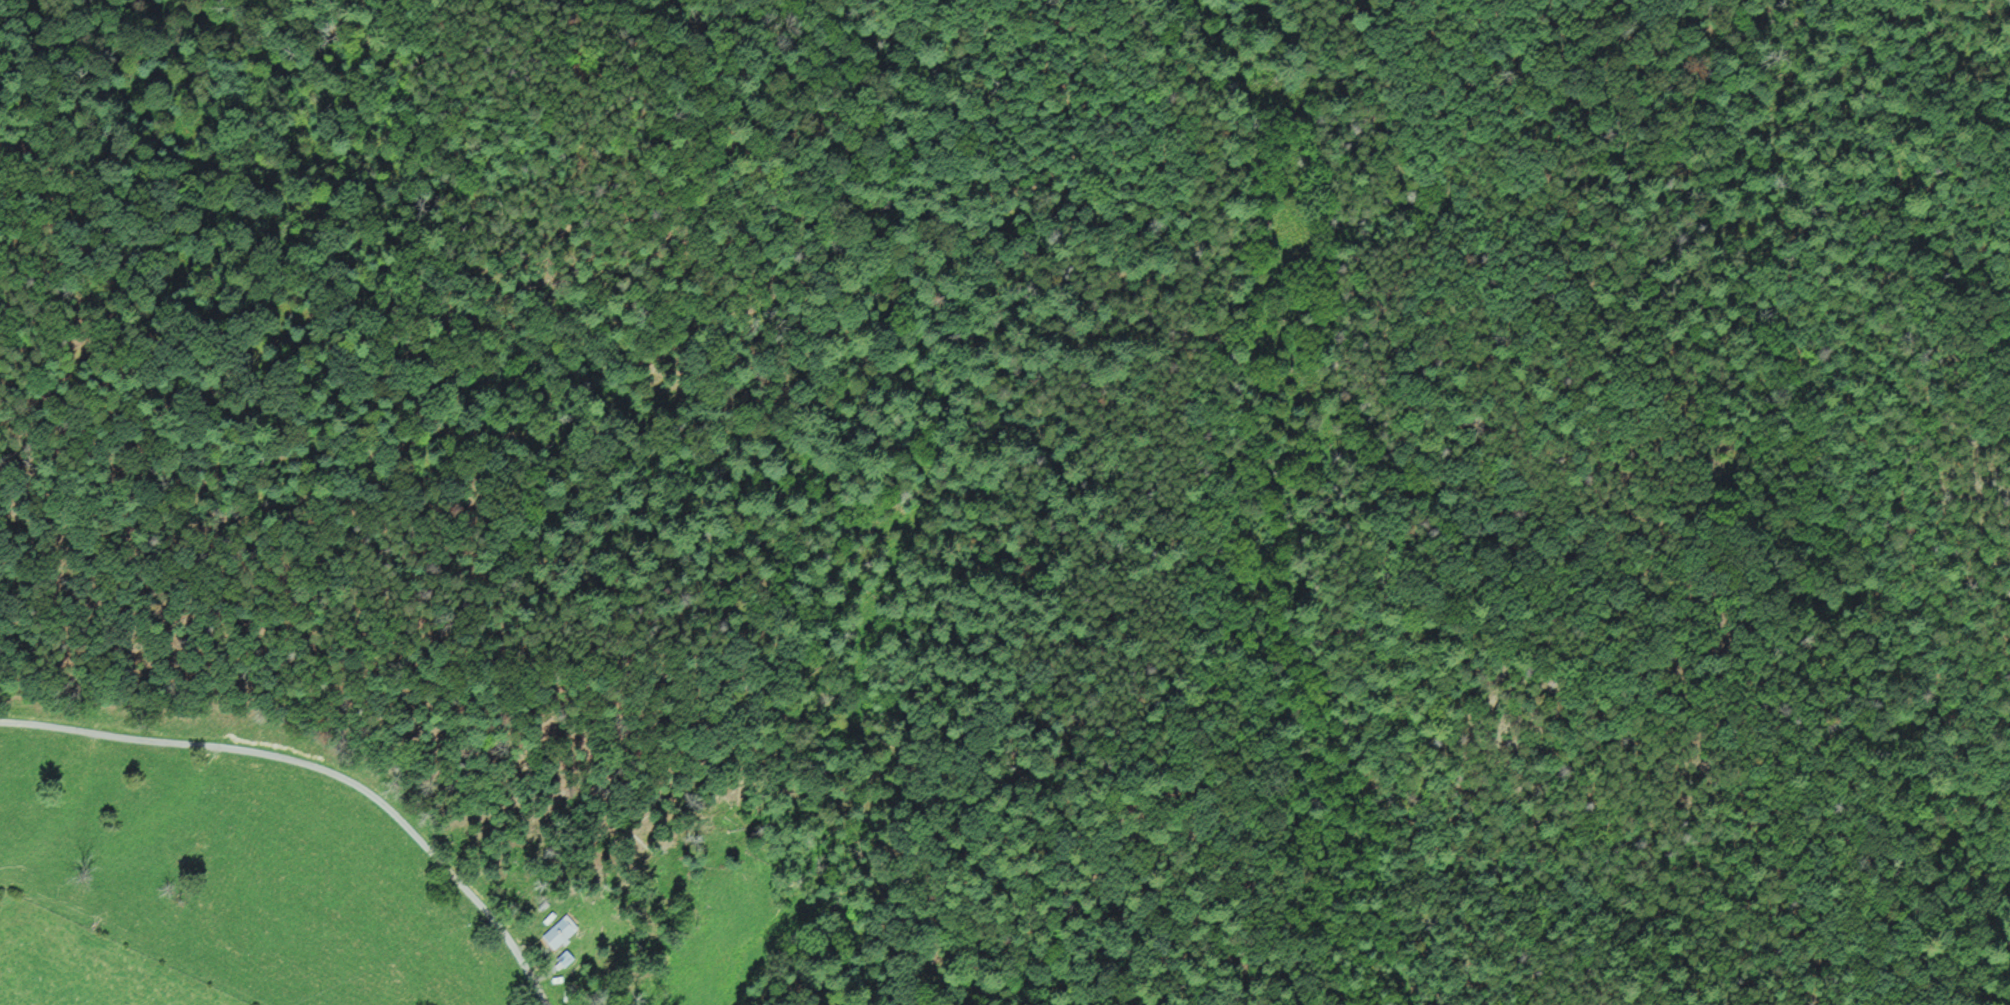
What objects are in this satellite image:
road: (324, 770)
building: (561, 933)
building: (568, 957)

